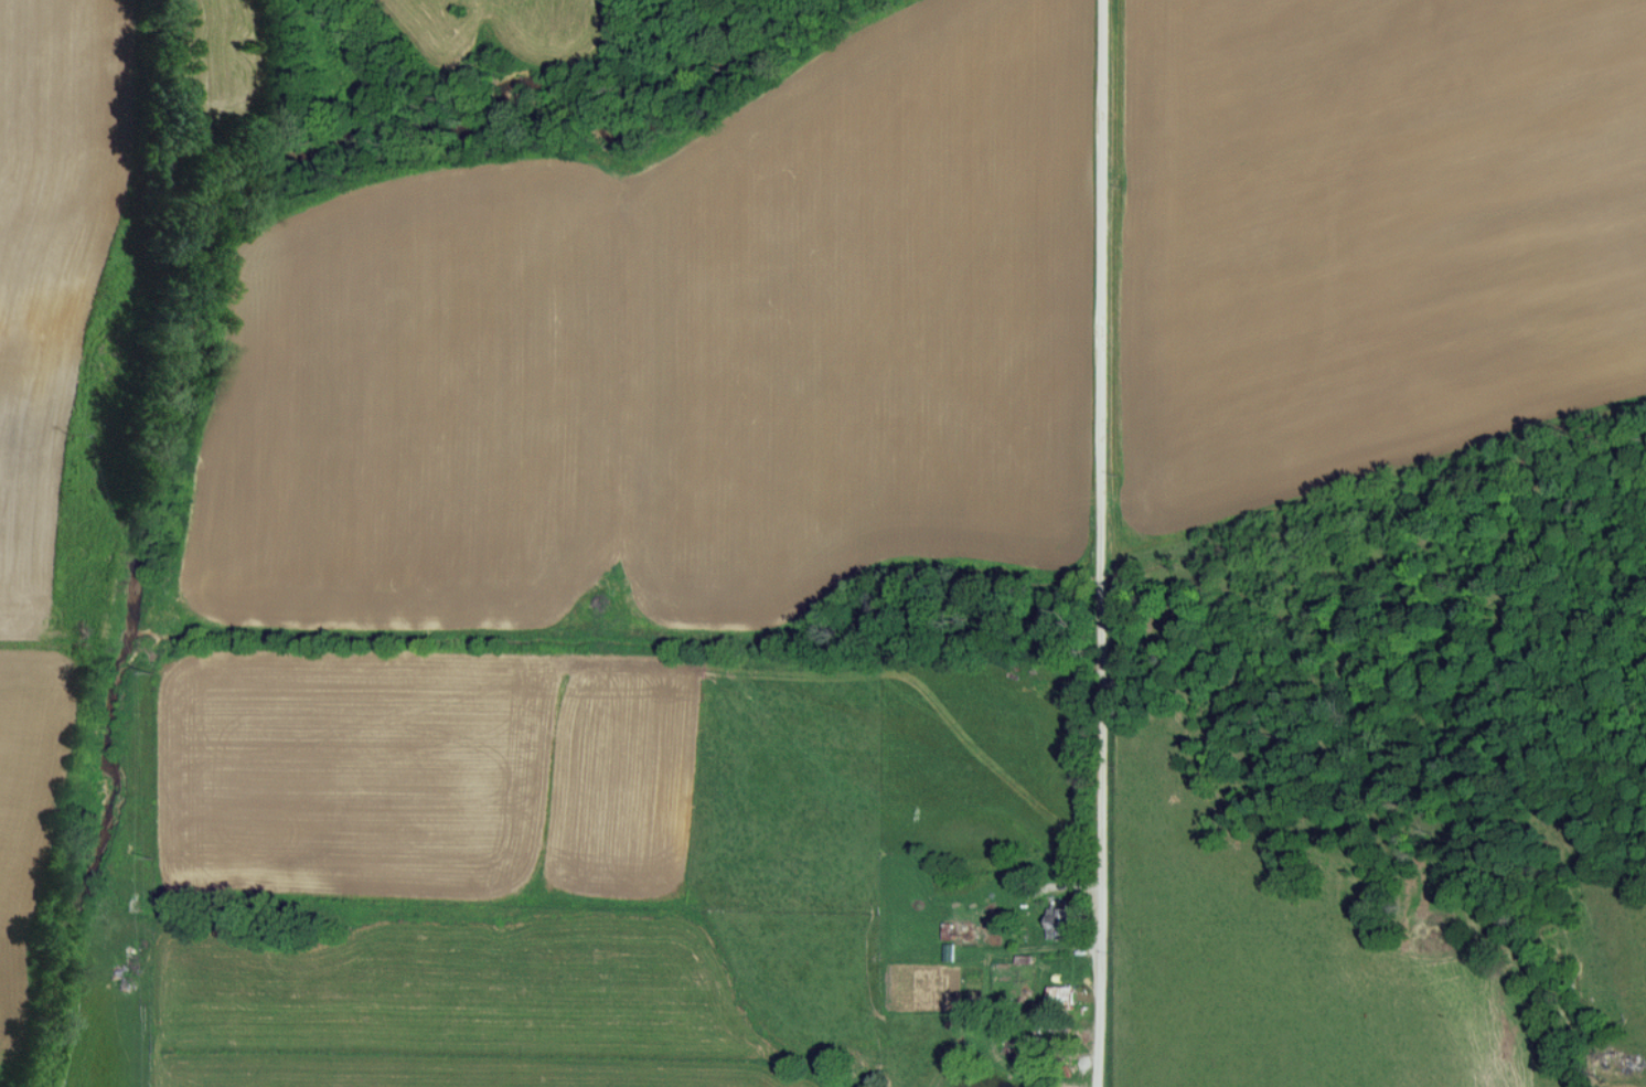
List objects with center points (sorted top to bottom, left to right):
road: (1111, 543)

